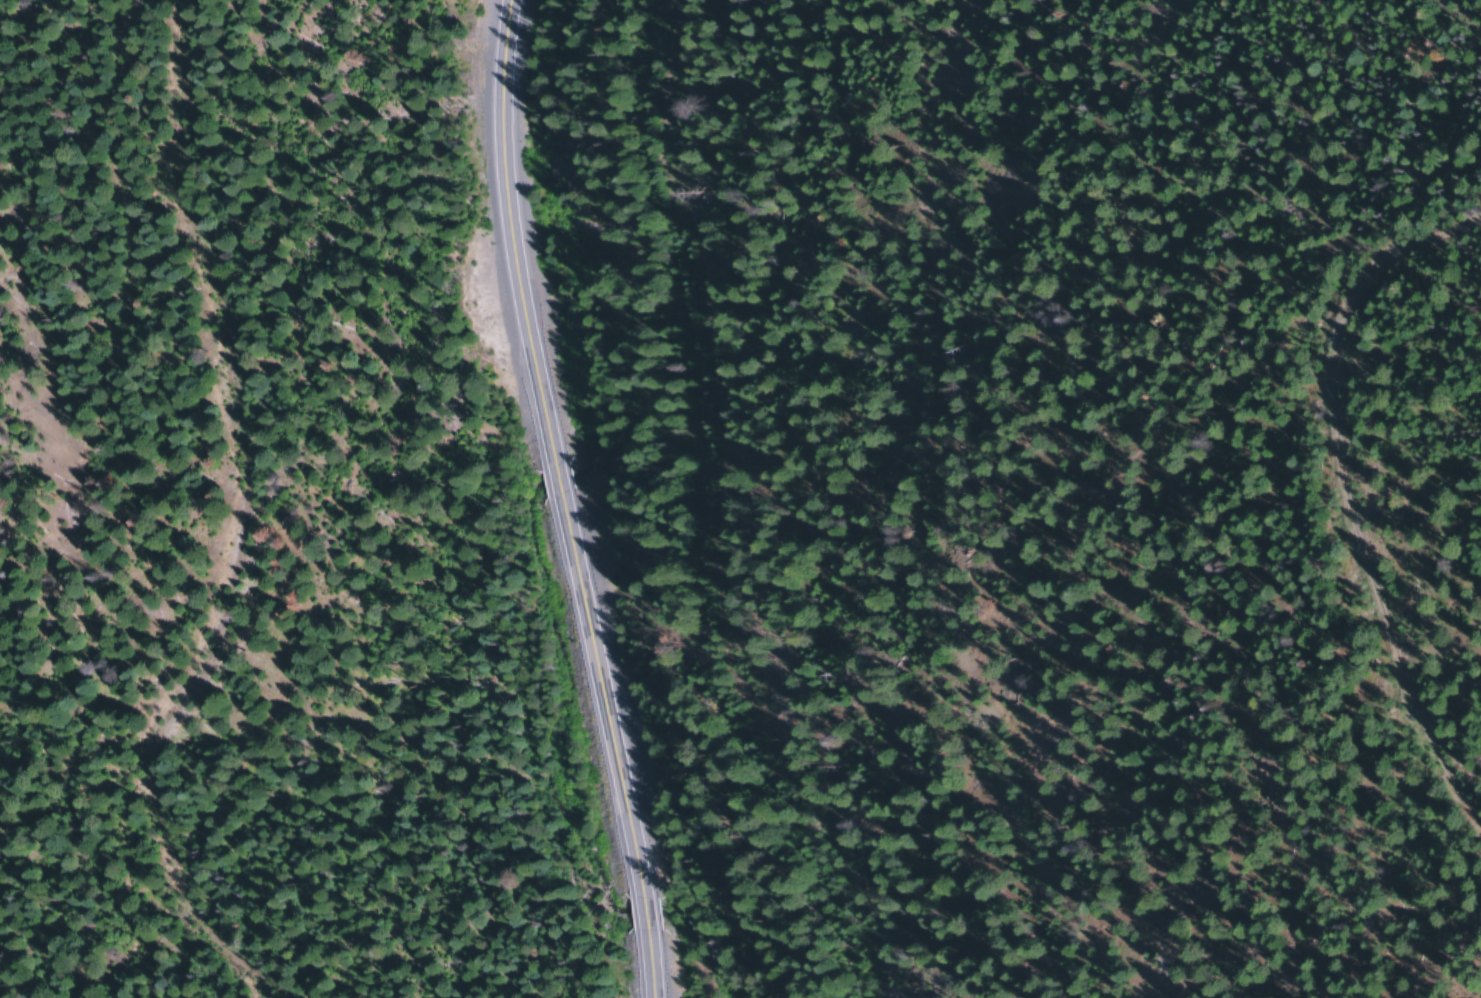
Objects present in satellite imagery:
road: (1352, 466)
road: (584, 499)
road: (896, 505)
road: (102, 508)
road: (705, 509)

